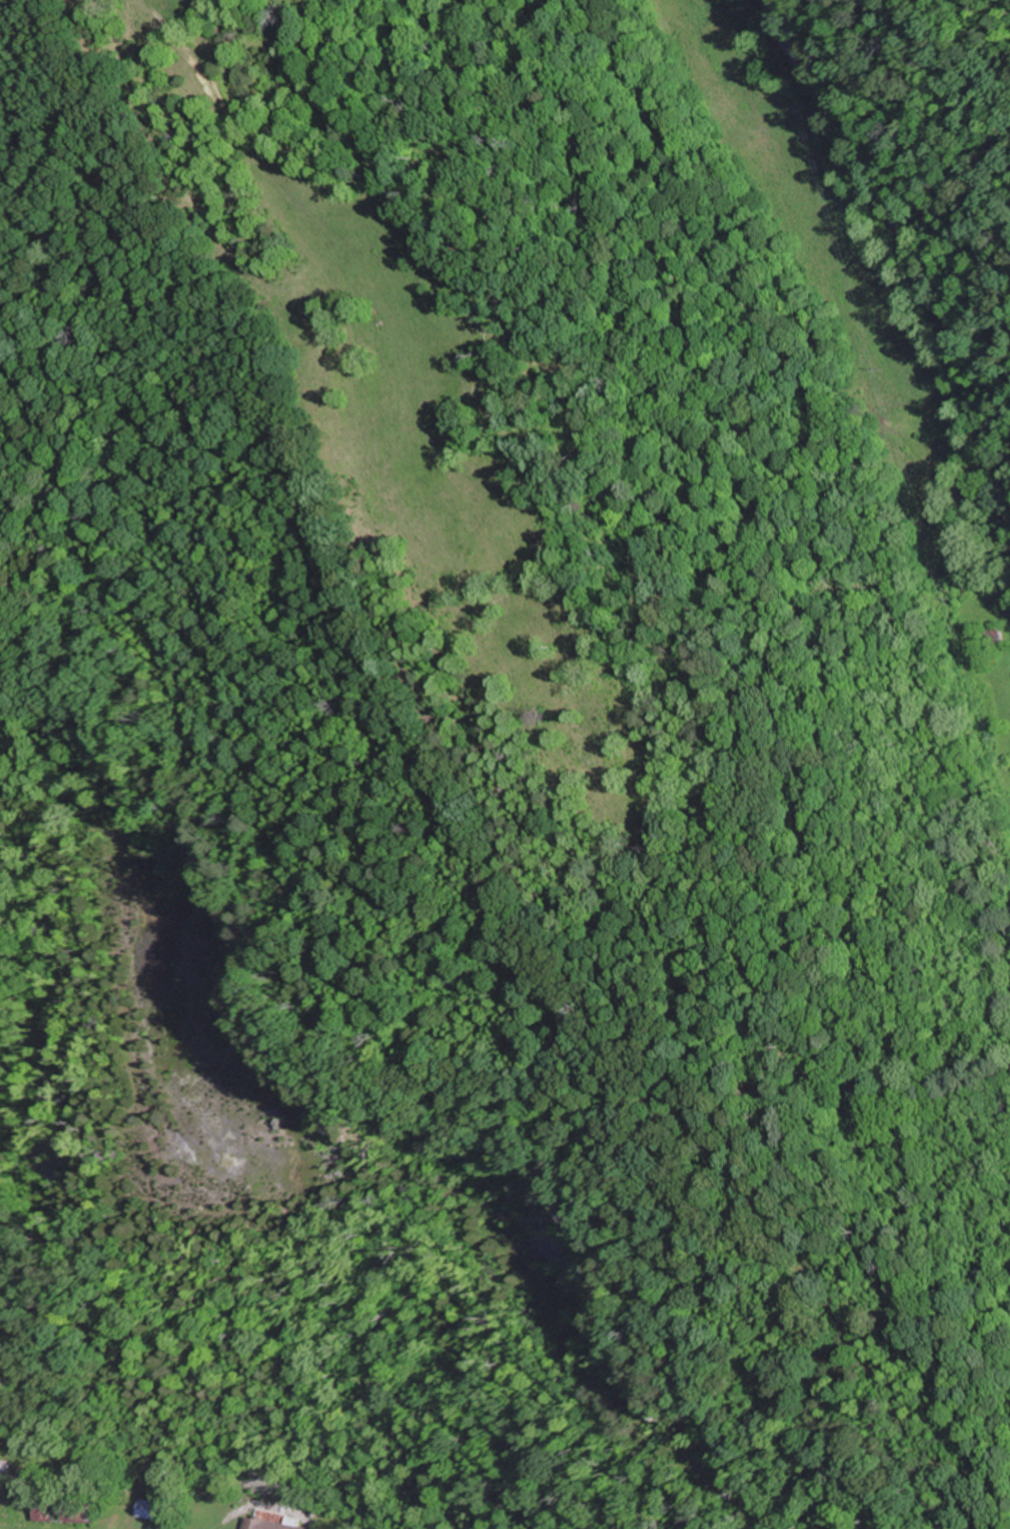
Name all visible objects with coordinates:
road: (894, 228)
building: (998, 636)
building: (6, 1467)
building: (55, 1508)
building: (274, 1524)

